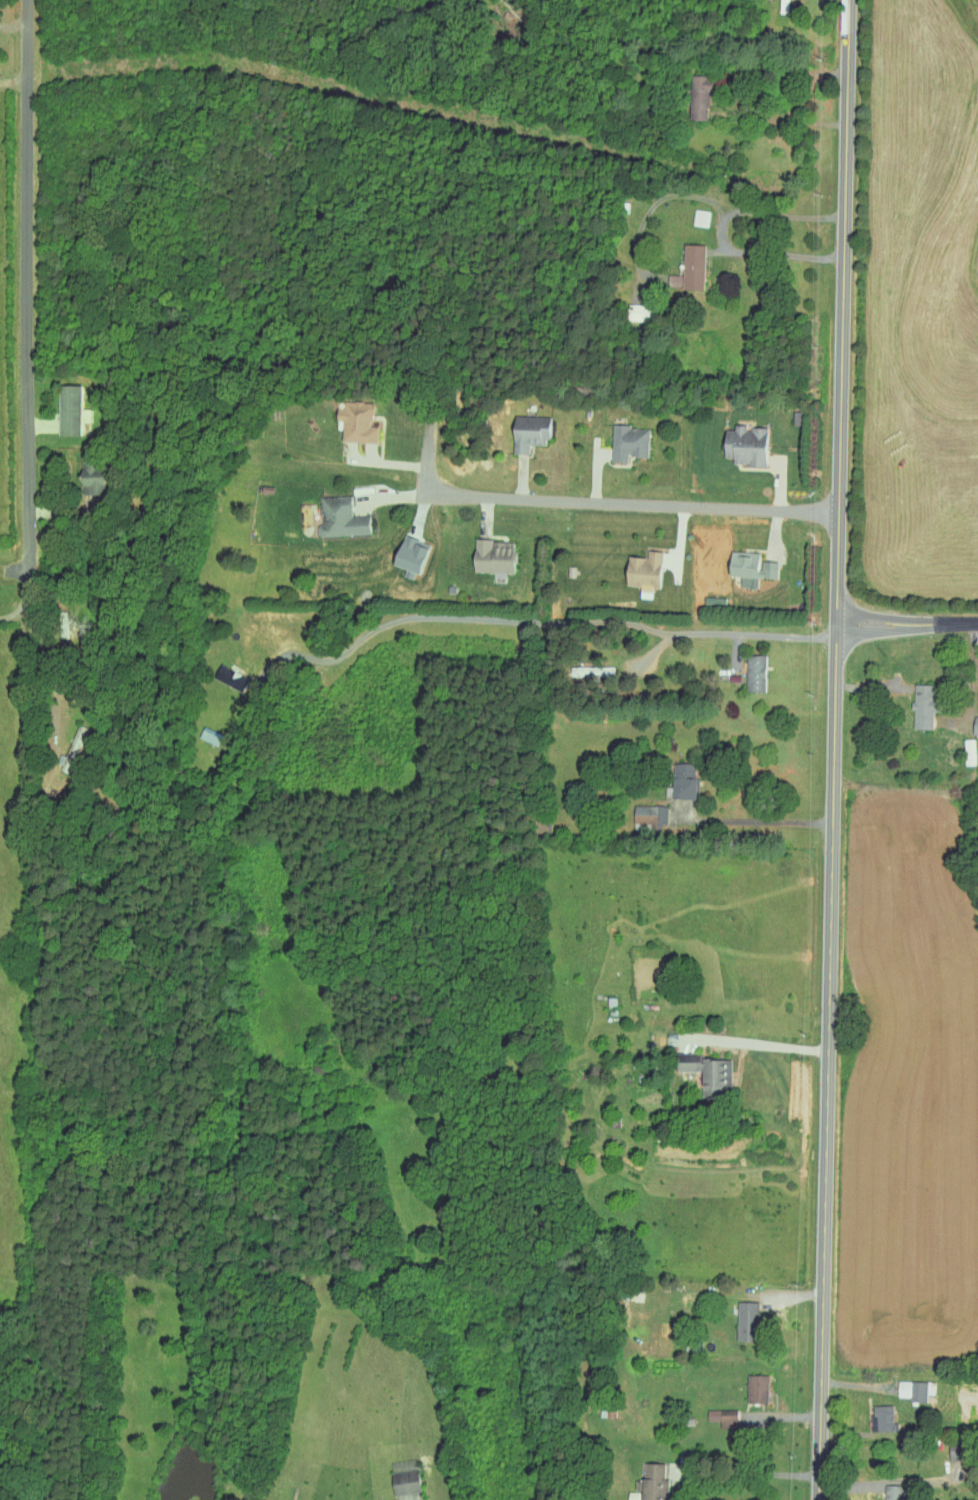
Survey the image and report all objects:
road: (14, 21)
road: (13, 83)
building: (701, 97)
road: (786, 120)
road: (722, 230)
building: (692, 268)
road: (28, 292)
building: (67, 413)
building: (357, 423)
building: (527, 439)
building: (627, 443)
building: (743, 446)
road: (429, 465)
building: (89, 480)
road: (406, 496)
road: (634, 501)
building: (339, 518)
building: (490, 557)
building: (748, 569)
building: (642, 571)
road: (21, 608)
road: (536, 619)
road: (907, 624)
building: (754, 672)
building: (230, 677)
building: (923, 704)
building: (974, 725)
building: (74, 742)
road: (835, 750)
building: (967, 751)
building: (681, 780)
building: (647, 814)
road: (761, 820)
road: (761, 1045)
building: (707, 1071)
building: (745, 1321)
building: (755, 1388)
building: (912, 1390)
building: (606, 1413)
building: (722, 1417)
building: (881, 1417)
building: (402, 1482)
building: (651, 1483)
building: (889, 1492)

